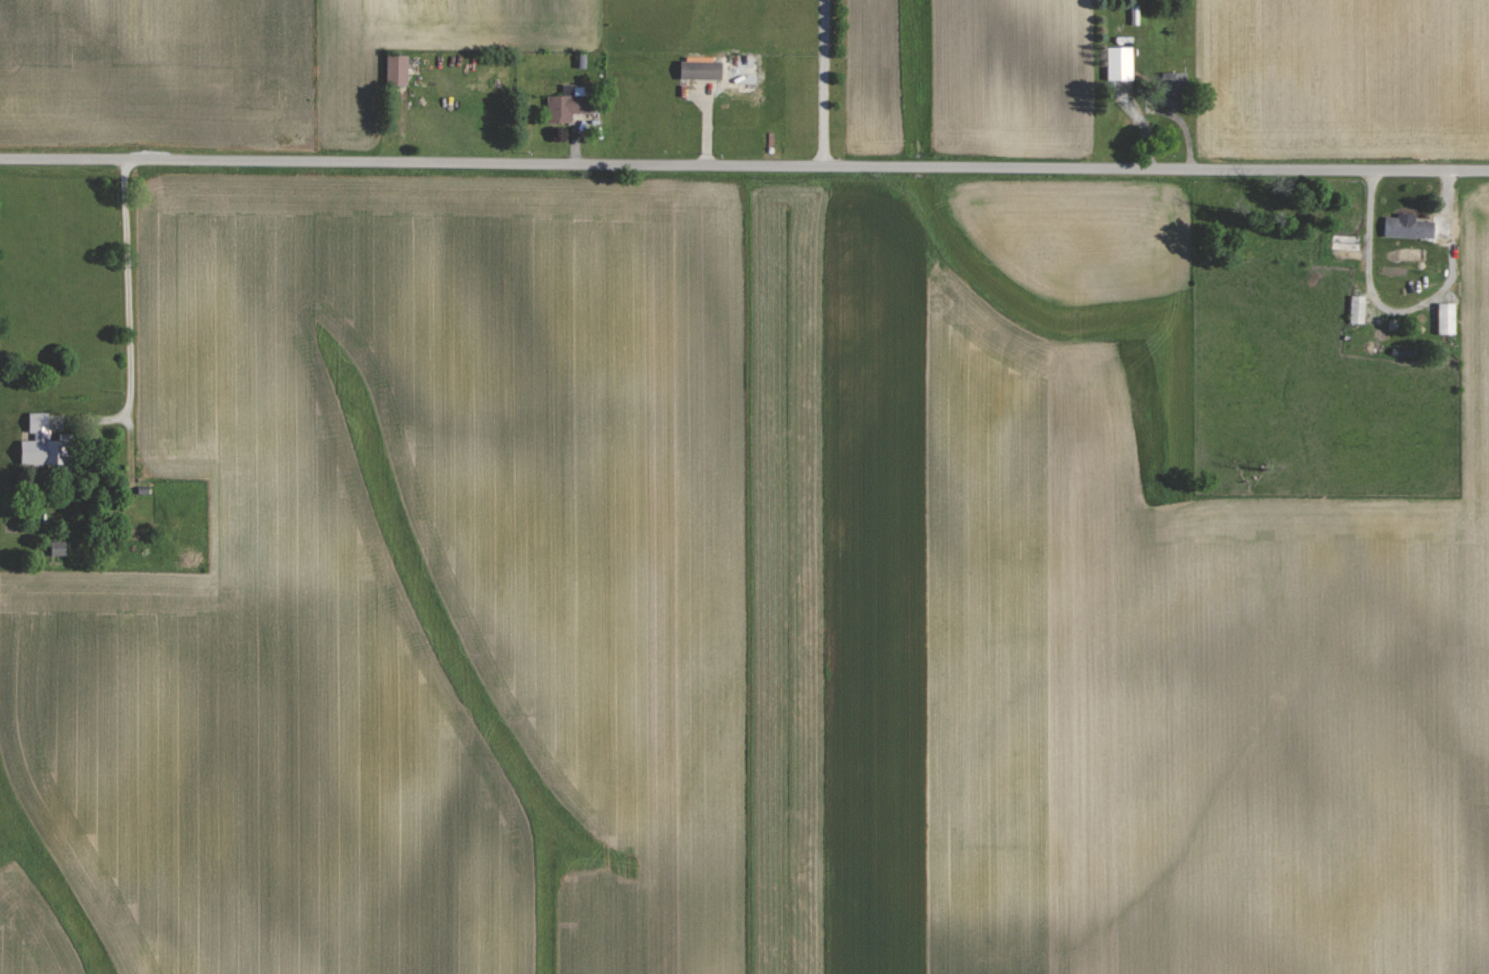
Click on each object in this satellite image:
building: (1122, 64)
building: (703, 70)
building: (398, 71)
road: (830, 82)
building: (1176, 90)
building: (570, 106)
road: (744, 165)
building: (1410, 226)
building: (1347, 246)
building: (1358, 309)
road: (1405, 310)
building: (1448, 318)
road: (126, 387)
building: (47, 444)
building: (60, 547)

